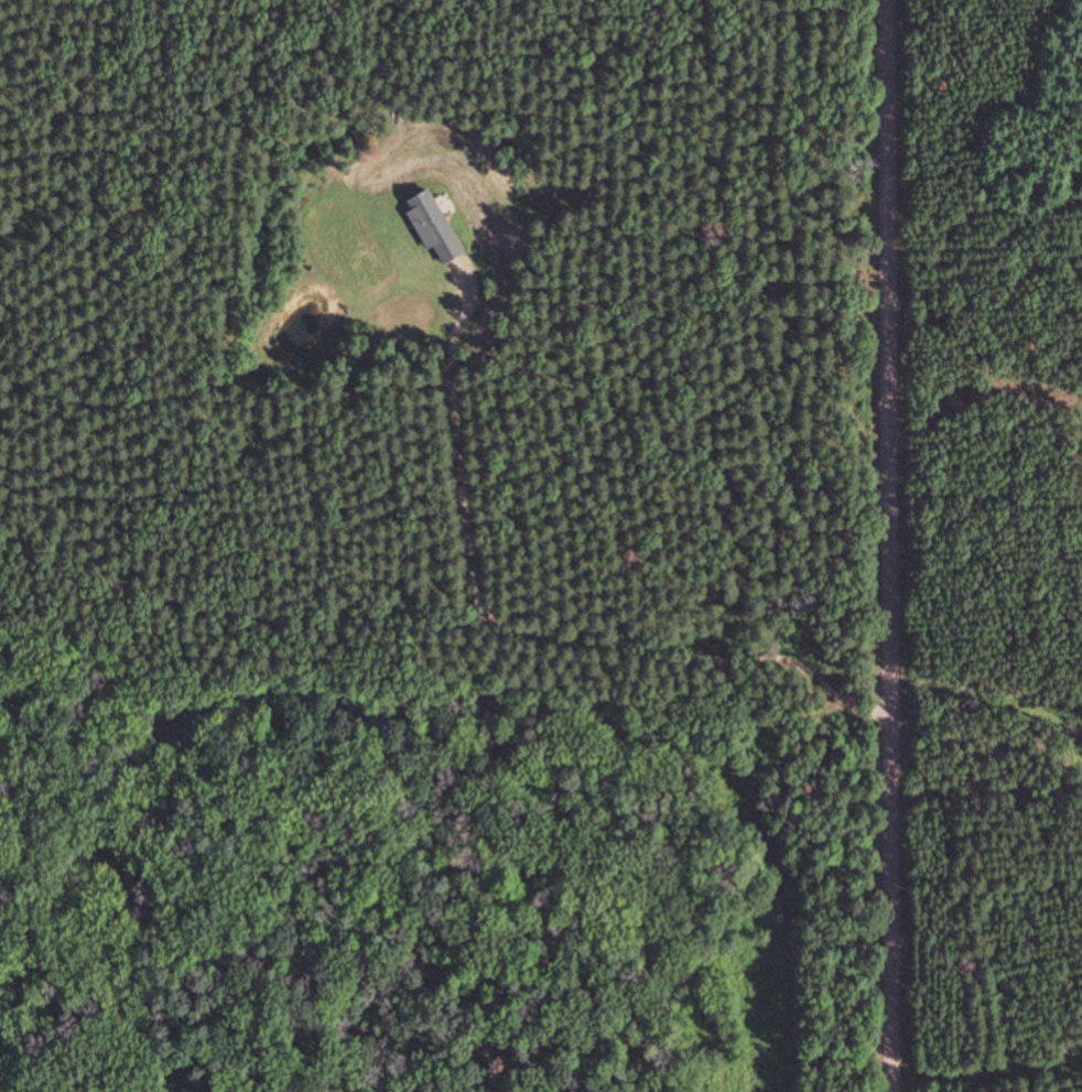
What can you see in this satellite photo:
building: (436, 225)
road: (891, 545)

